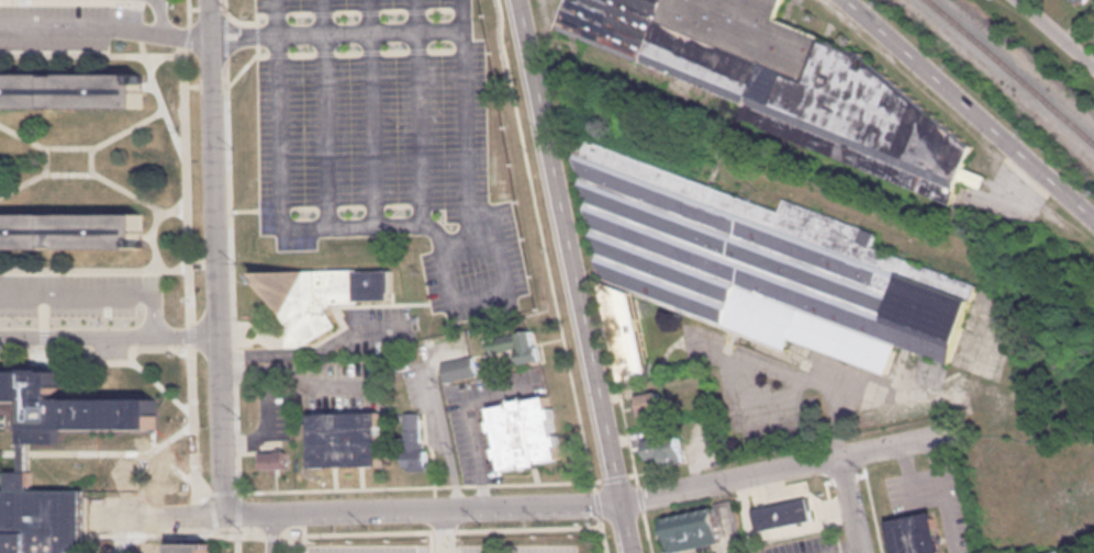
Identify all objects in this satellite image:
road: (222, 4)
road: (191, 8)
road: (208, 8)
road: (188, 12)
road: (336, 12)
road: (161, 15)
road: (105, 26)
road: (1056, 33)
road: (141, 34)
road: (186, 34)
road: (336, 34)
road: (223, 35)
road: (336, 52)
road: (90, 54)
railway: (1012, 70)
building: (784, 82)
road: (190, 86)
road: (211, 86)
building: (70, 91)
road: (159, 99)
road: (973, 103)
road: (324, 112)
road: (371, 112)
road: (418, 112)
parking lot: (386, 140)
road: (83, 147)
road: (45, 160)
road: (92, 160)
road: (94, 174)
road: (186, 184)
road: (326, 207)
building: (70, 229)
road: (154, 238)
road: (471, 250)
road: (216, 256)
road: (217, 258)
road: (443, 261)
building: (753, 268)
road: (102, 269)
road: (576, 275)
road: (550, 276)
parking lot: (75, 290)
road: (96, 295)
building: (321, 295)
road: (233, 297)
road: (43, 321)
road: (434, 326)
road: (190, 334)
road: (110, 335)
road: (549, 340)
building: (514, 343)
road: (319, 352)
road: (96, 360)
building: (460, 368)
road: (160, 399)
building: (647, 403)
building: (65, 404)
road: (431, 408)
road: (4, 411)
road: (472, 422)
road: (444, 430)
building: (525, 431)
road: (261, 432)
building: (347, 438)
road: (131, 439)
building: (414, 442)
road: (893, 443)
building: (665, 448)
road: (193, 451)
building: (23, 455)
road: (434, 458)
building: (275, 459)
road: (47, 469)
road: (908, 472)
road: (537, 475)
road: (312, 489)
road: (946, 494)
road: (560, 501)
road: (853, 503)
building: (780, 508)
road: (159, 511)
road: (249, 511)
building: (40, 518)
road: (444, 529)
building: (693, 529)
road: (421, 531)
road: (273, 532)
road: (161, 533)
building: (916, 533)
road: (104, 534)
road: (238, 543)
building: (193, 548)
road: (710, 548)
parking lot: (442, 549)
building: (1054, 551)
road: (113, 552)

